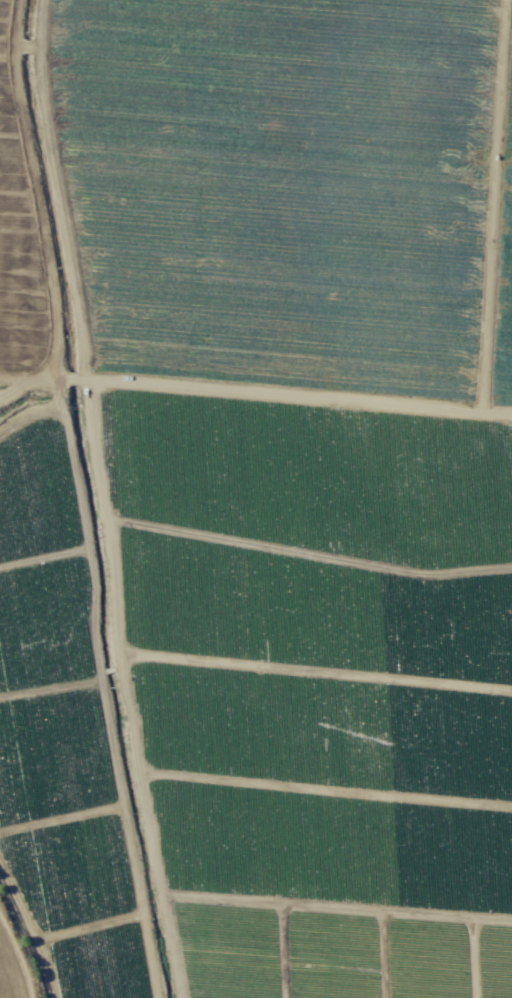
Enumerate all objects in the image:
crop: (256, 499)

